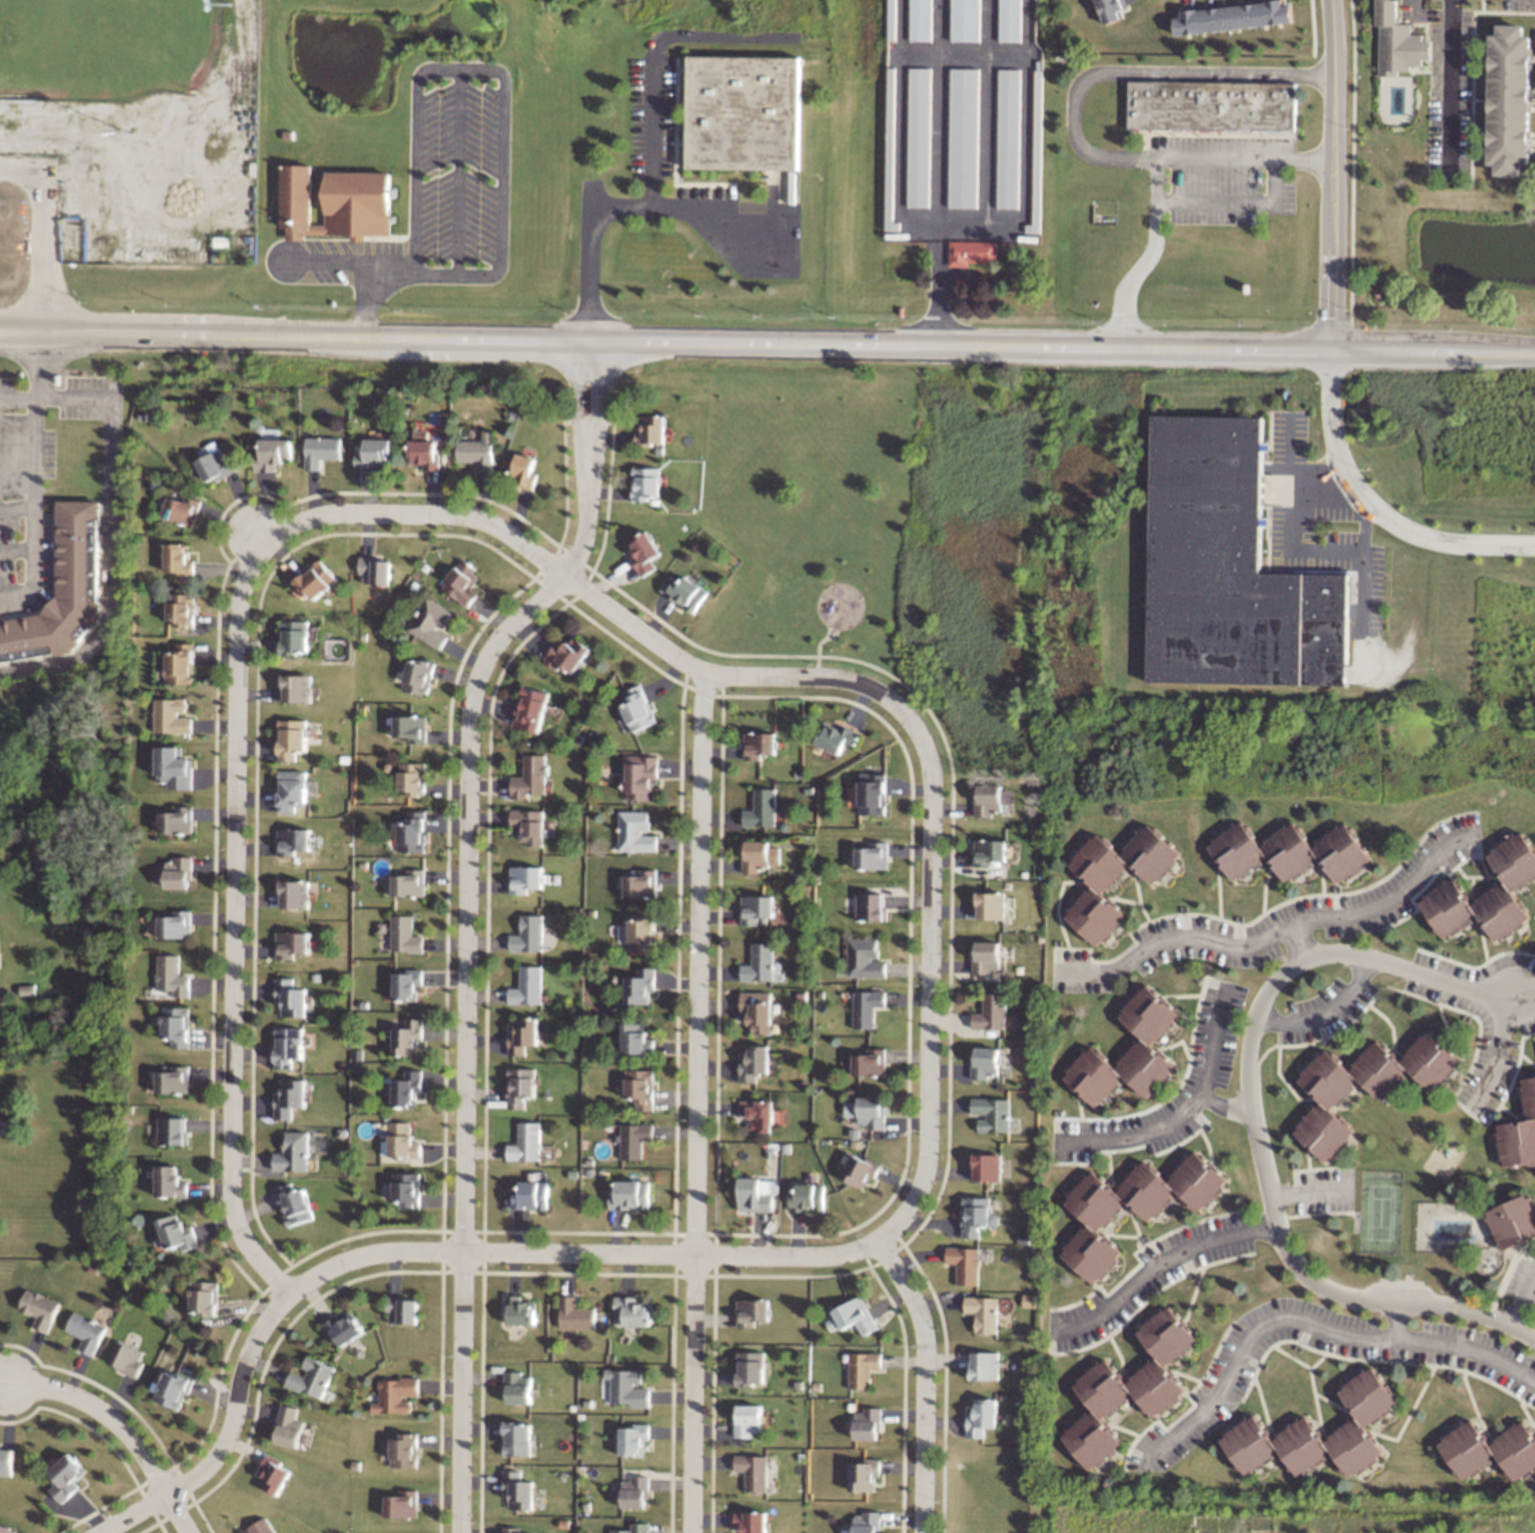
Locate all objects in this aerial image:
parking lot: (1519, 3)
road: (1415, 5)
building: (1114, 10)
building: (1232, 17)
building: (920, 20)
building: (965, 20)
building: (1009, 20)
road: (711, 35)
building: (1398, 41)
park: (105, 47)
road: (1532, 53)
road: (920, 54)
road: (1473, 76)
road: (1450, 84)
road: (1533, 89)
parking lot: (1450, 90)
building: (1509, 94)
road: (1532, 95)
road: (1533, 105)
building: (1213, 106)
building: (742, 114)
road: (1075, 115)
road: (503, 127)
road: (1532, 131)
road: (654, 132)
building: (919, 136)
road: (1532, 137)
building: (964, 139)
building: (1009, 139)
road: (1534, 148)
building: (889, 152)
building: (1037, 154)
road: (458, 172)
road: (1336, 174)
parking lot: (1222, 177)
parking lot: (434, 191)
road: (1234, 199)
road: (631, 202)
building: (333, 204)
road: (40, 237)
building: (971, 252)
road: (1145, 254)
road: (767, 341)
road: (38, 364)
building: (651, 429)
road: (35, 450)
building: (321, 450)
building: (423, 450)
building: (478, 452)
building: (374, 453)
building: (272, 454)
building: (214, 463)
building: (524, 470)
building: (645, 483)
road: (1326, 487)
road: (1375, 505)
building: (436, 506)
building: (182, 509)
road: (1295, 516)
road: (112, 518)
road: (32, 543)
building: (643, 552)
building: (179, 559)
building: (94, 560)
road: (1364, 563)
building: (1229, 568)
building: (375, 570)
building: (313, 580)
building: (461, 582)
building: (59, 592)
building: (684, 592)
building: (181, 609)
building: (430, 622)
building: (294, 636)
building: (567, 654)
building: (181, 664)
building: (415, 675)
building: (296, 687)
building: (530, 708)
building: (637, 708)
building: (172, 716)
building: (837, 737)
building: (291, 738)
building: (759, 744)
road: (237, 763)
building: (174, 767)
building: (638, 776)
building: (530, 777)
building: (411, 778)
building: (291, 790)
building: (872, 793)
building: (990, 799)
building: (762, 808)
building: (176, 821)
building: (529, 825)
building: (634, 831)
building: (411, 832)
building: (293, 840)
building: (1289, 851)
building: (990, 852)
building: (759, 855)
building: (873, 855)
building: (178, 872)
building: (1115, 877)
building: (525, 878)
building: (408, 883)
building: (638, 883)
building: (295, 894)
building: (1487, 894)
building: (989, 905)
building: (871, 906)
building: (756, 908)
road: (466, 916)
building: (176, 924)
building: (641, 933)
building: (528, 934)
road: (1278, 934)
building: (404, 935)
road: (1300, 943)
building: (292, 944)
building: (985, 957)
building: (865, 958)
building: (759, 963)
building: (172, 975)
building: (406, 984)
building: (639, 985)
building: (527, 986)
building: (290, 997)
building: (867, 1007)
building: (758, 1010)
building: (991, 1012)
road: (1331, 1014)
building: (176, 1025)
building: (521, 1035)
building: (407, 1037)
building: (635, 1038)
building: (288, 1046)
building: (1128, 1052)
road: (1499, 1059)
building: (753, 1062)
building: (870, 1062)
building: (984, 1063)
building: (1405, 1064)
building: (1327, 1078)
building: (174, 1080)
building: (519, 1086)
building: (639, 1087)
building: (406, 1088)
building: (289, 1098)
road: (696, 1103)
road: (1225, 1106)
building: (867, 1111)
road: (1186, 1113)
building: (760, 1114)
building: (992, 1114)
building: (172, 1130)
road: (1255, 1131)
building: (1323, 1131)
building: (1520, 1132)
building: (633, 1139)
building: (401, 1140)
building: (525, 1142)
building: (293, 1152)
road: (929, 1154)
building: (987, 1167)
building: (858, 1169)
building: (169, 1181)
building: (406, 1189)
road: (1309, 1192)
building: (628, 1194)
building: (755, 1194)
building: (528, 1195)
building: (807, 1198)
building: (294, 1204)
building: (1131, 1206)
park: (1380, 1211)
building: (977, 1215)
building: (1513, 1221)
building: (177, 1232)
building: (965, 1263)
road: (1155, 1268)
road: (1520, 1295)
building: (204, 1297)
building: (39, 1308)
building: (402, 1309)
building: (519, 1310)
building: (632, 1310)
building: (752, 1311)
building: (983, 1312)
building: (575, 1314)
building: (852, 1316)
road: (1400, 1321)
road: (1308, 1322)
building: (345, 1328)
building: (85, 1331)
building: (126, 1358)
building: (985, 1365)
building: (750, 1367)
building: (862, 1368)
building: (312, 1377)
road: (926, 1381)
building: (516, 1387)
building: (627, 1387)
building: (1129, 1387)
building: (173, 1389)
building: (395, 1395)
road: (106, 1413)
building: (982, 1417)
building: (748, 1419)
building: (867, 1423)
building: (289, 1426)
building: (1318, 1432)
building: (516, 1438)
building: (633, 1439)
building: (1490, 1449)
building: (403, 1450)
building: (753, 1470)
building: (864, 1474)
building: (66, 1477)
road: (192, 1485)
building: (517, 1490)
building: (634, 1491)
building: (401, 1504)
road: (181, 1515)
building: (751, 1521)
building: (867, 1522)
building: (262, 1526)
building: (632, 1528)
building: (6, 1529)
building: (512, 1530)

